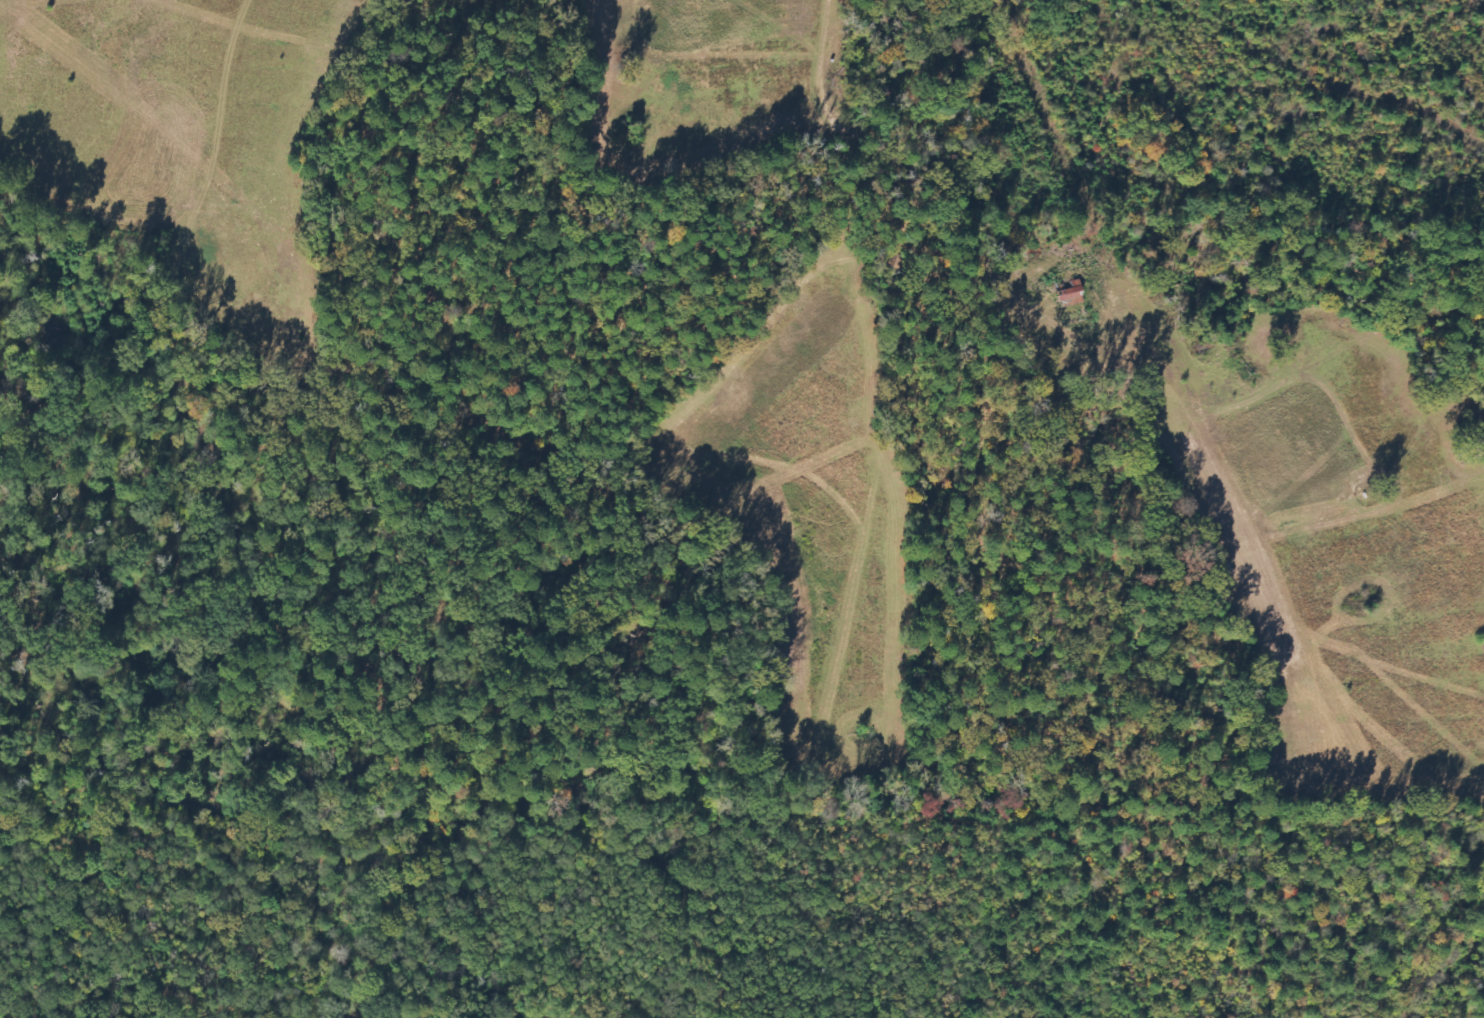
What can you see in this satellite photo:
building: (1072, 296)

